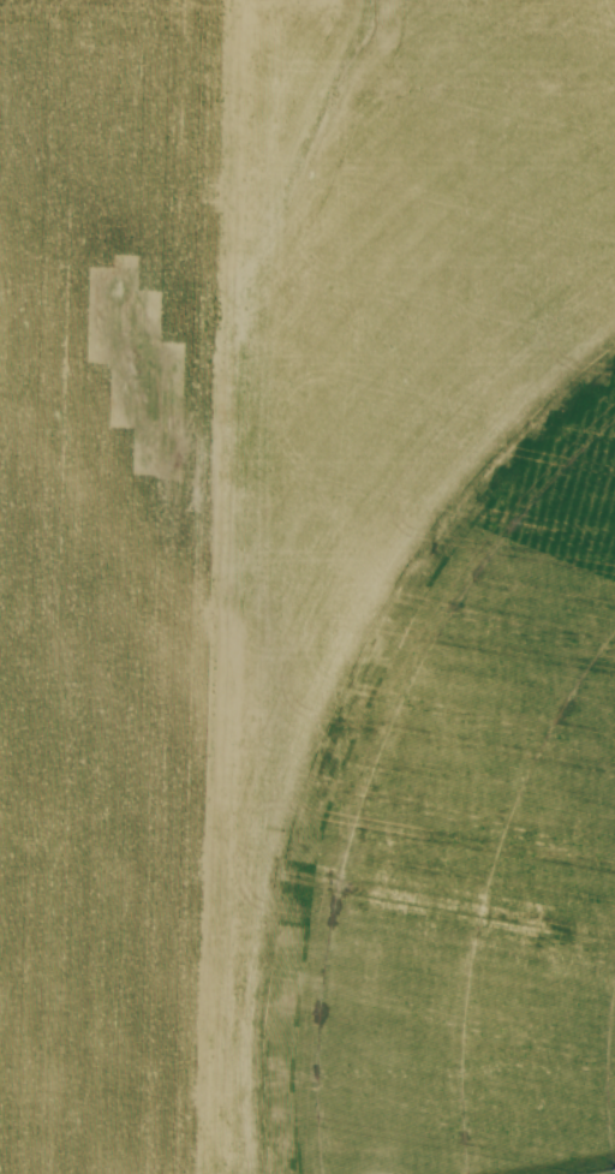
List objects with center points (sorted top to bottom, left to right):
crop: (307, 586)

